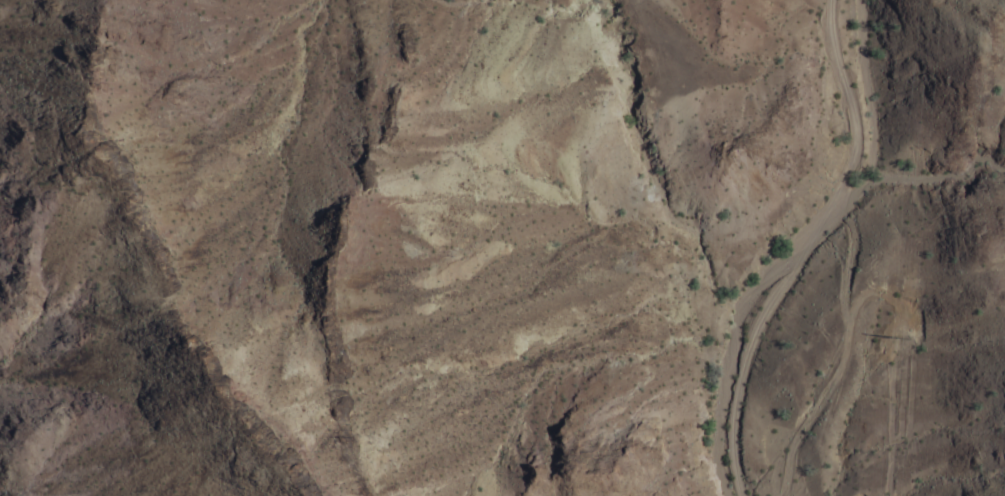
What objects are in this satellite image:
power tower: (907, 335)

